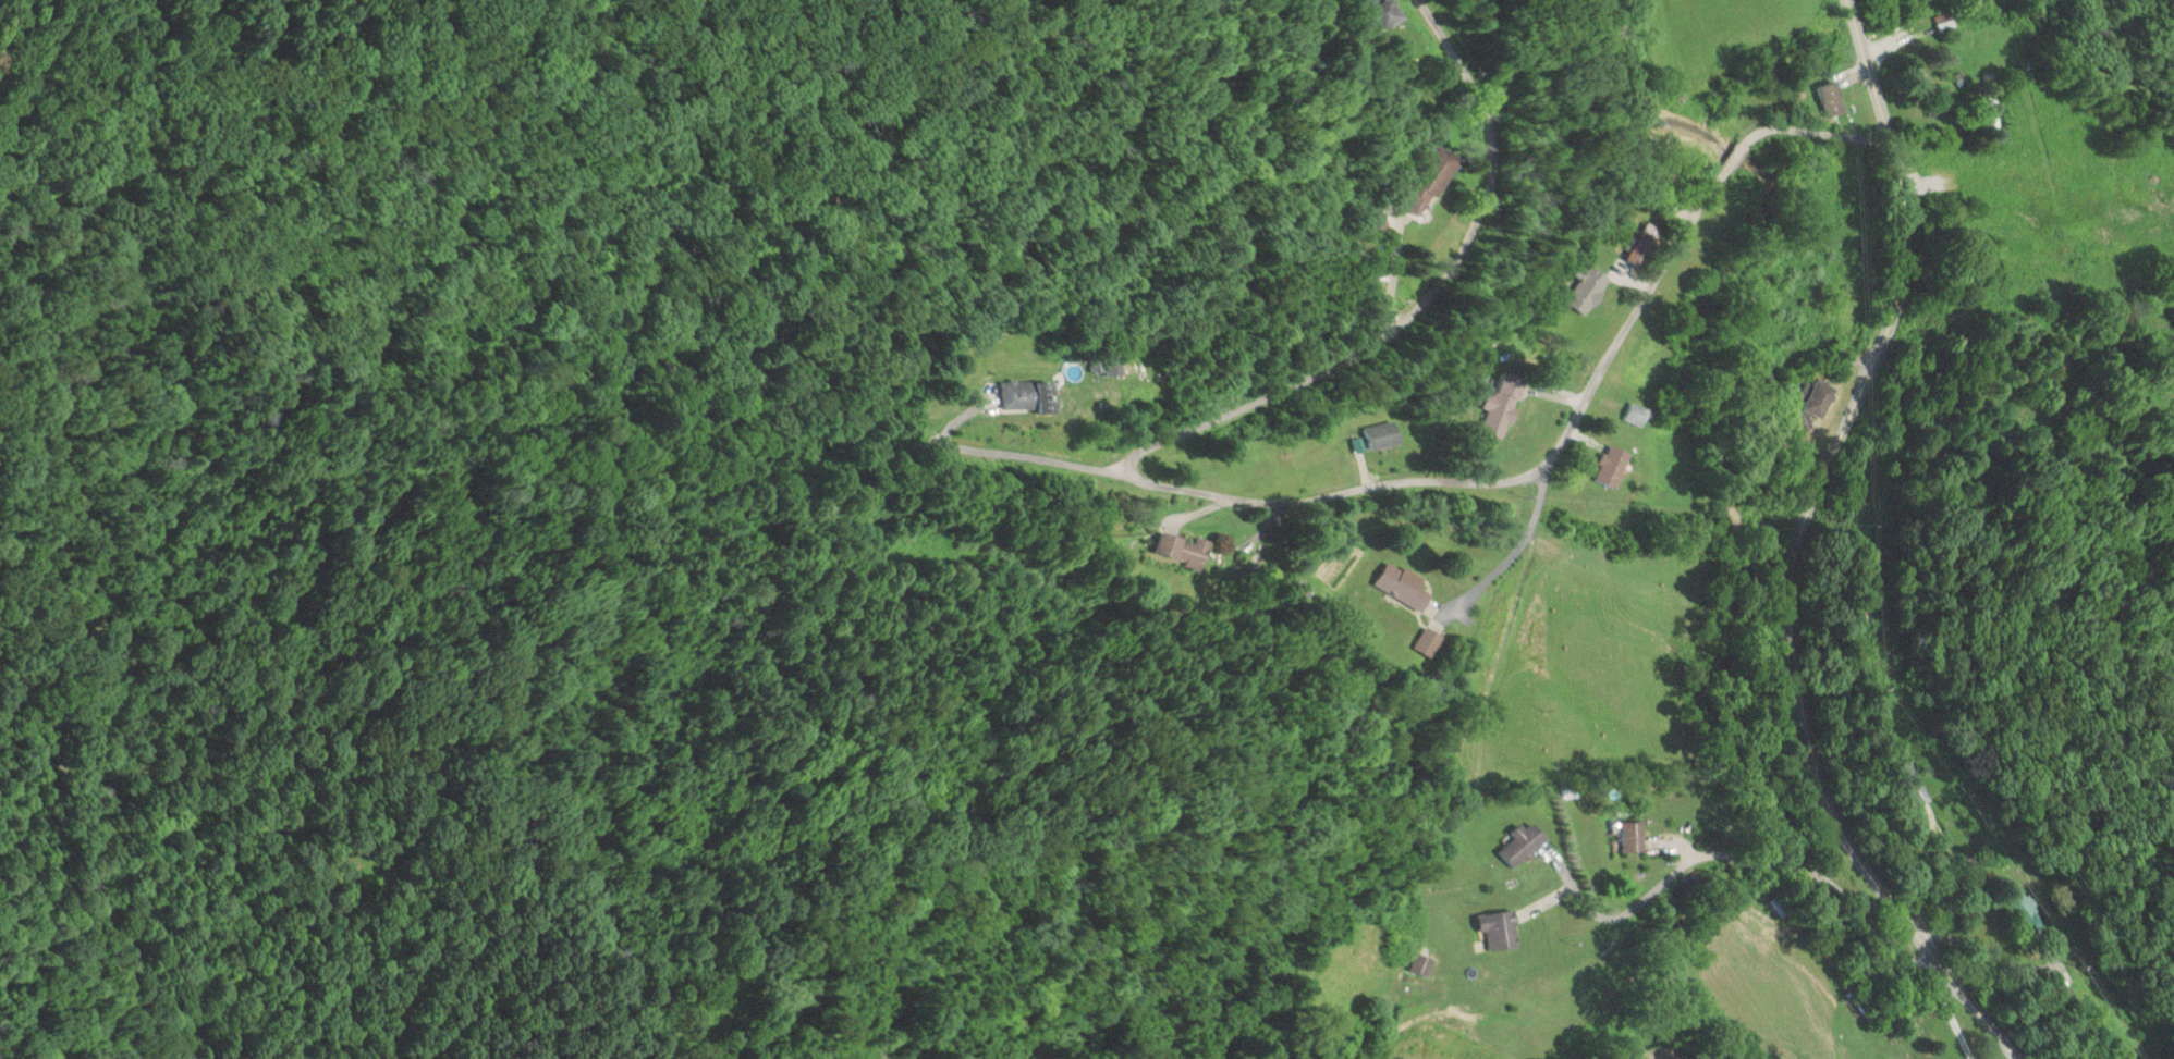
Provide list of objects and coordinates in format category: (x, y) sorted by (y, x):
building: (1387, 14)
building: (1944, 22)
building: (1832, 100)
building: (1432, 178)
building: (1583, 288)
building: (1028, 398)
building: (1819, 399)
building: (1503, 406)
building: (1637, 414)
building: (1382, 436)
building: (1612, 466)
road: (1513, 481)
building: (1183, 549)
road: (1797, 550)
building: (1403, 584)
building: (1633, 837)
building: (1524, 843)
building: (2025, 904)
building: (1500, 929)
building: (1422, 964)

